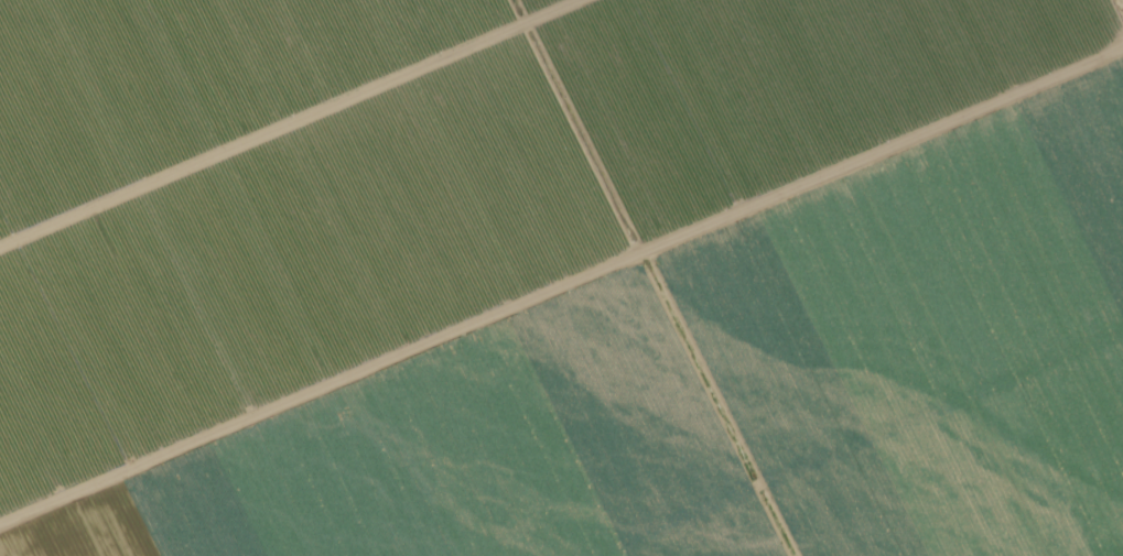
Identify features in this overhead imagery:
crop: (400, 173)
crop: (915, 279)
crop: (452, 453)
crop: (983, 481)
crop: (716, 535)

